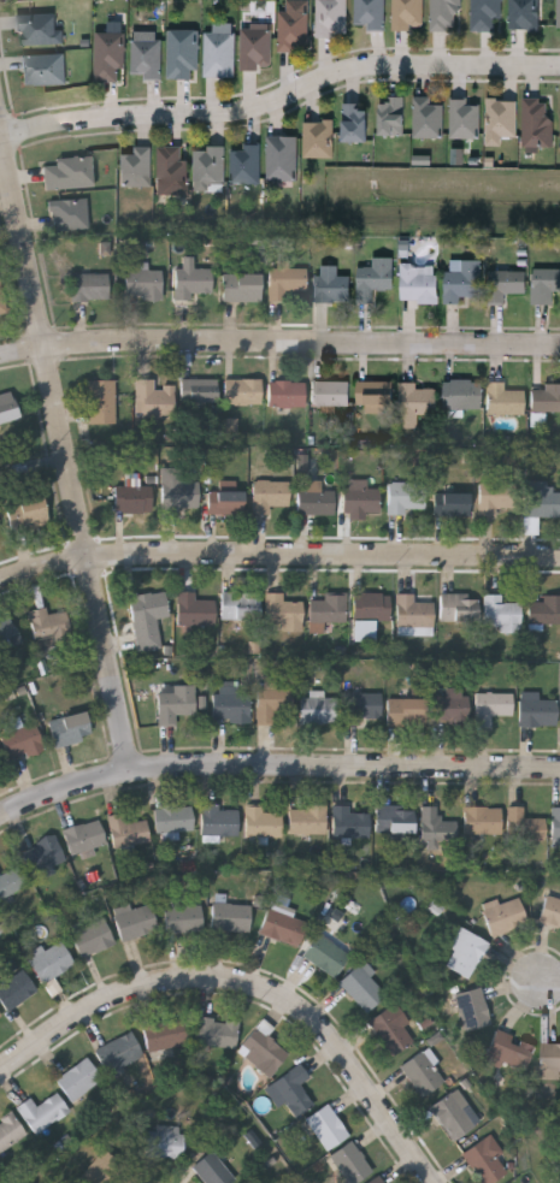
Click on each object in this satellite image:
building: (370, 13)
building: (407, 14)
building: (446, 14)
building: (524, 14)
building: (484, 16)
building: (558, 16)
building: (331, 18)
building: (39, 30)
building: (293, 31)
building: (255, 49)
building: (182, 53)
building: (218, 53)
building: (108, 57)
building: (146, 59)
building: (43, 70)
road: (283, 94)
building: (393, 117)
building: (428, 118)
building: (501, 118)
building: (464, 119)
building: (538, 123)
building: (356, 124)
road: (2, 135)
building: (319, 140)
building: (281, 156)
building: (246, 164)
building: (135, 166)
building: (208, 168)
building: (170, 170)
building: (67, 172)
building: (67, 214)
building: (375, 279)
building: (191, 280)
building: (465, 283)
building: (285, 284)
building: (145, 285)
building: (331, 285)
building: (417, 285)
building: (505, 285)
building: (544, 285)
building: (90, 289)
building: (242, 289)
building: (2, 303)
road: (278, 344)
building: (330, 391)
building: (199, 392)
building: (242, 394)
building: (287, 396)
building: (375, 396)
building: (462, 396)
building: (546, 400)
building: (154, 402)
building: (503, 402)
building: (101, 403)
building: (415, 404)
building: (7, 407)
building: (231, 430)
road: (65, 434)
building: (302, 463)
building: (181, 492)
building: (269, 493)
building: (407, 497)
building: (134, 499)
building: (496, 499)
building: (361, 501)
building: (225, 502)
building: (316, 503)
building: (453, 505)
building: (542, 505)
building: (25, 511)
building: (531, 526)
road: (277, 555)
building: (240, 608)
building: (371, 608)
building: (459, 608)
building: (328, 610)
building: (195, 611)
building: (544, 611)
building: (283, 614)
building: (413, 614)
building: (501, 615)
building: (148, 621)
building: (47, 627)
building: (365, 631)
building: (7, 637)
building: (273, 704)
building: (175, 705)
building: (230, 708)
building: (362, 708)
building: (452, 708)
building: (493, 708)
building: (319, 711)
building: (406, 712)
building: (537, 714)
building: (70, 730)
building: (22, 743)
road: (275, 764)
building: (173, 820)
building: (307, 821)
building: (395, 821)
building: (218, 822)
building: (482, 822)
building: (264, 823)
building: (349, 824)
building: (555, 824)
building: (524, 826)
building: (437, 829)
building: (126, 832)
building: (84, 836)
building: (42, 854)
building: (11, 883)
building: (550, 912)
building: (231, 918)
building: (505, 918)
building: (184, 919)
building: (135, 922)
building: (282, 925)
building: (93, 939)
building: (465, 953)
building: (326, 954)
building: (52, 963)
road: (549, 982)
road: (250, 983)
building: (364, 988)
building: (14, 990)
building: (472, 1010)
building: (0, 1016)
building: (391, 1031)
building: (216, 1034)
building: (165, 1036)
building: (511, 1052)
building: (263, 1053)
building: (119, 1054)
building: (549, 1058)
building: (420, 1073)
building: (79, 1081)
building: (293, 1093)
building: (42, 1114)
building: (453, 1118)
building: (326, 1129)
building: (10, 1134)
building: (164, 1143)
building: (485, 1161)
building: (350, 1165)
building: (101, 1170)
building: (212, 1171)
building: (378, 1181)
building: (558, 1181)

